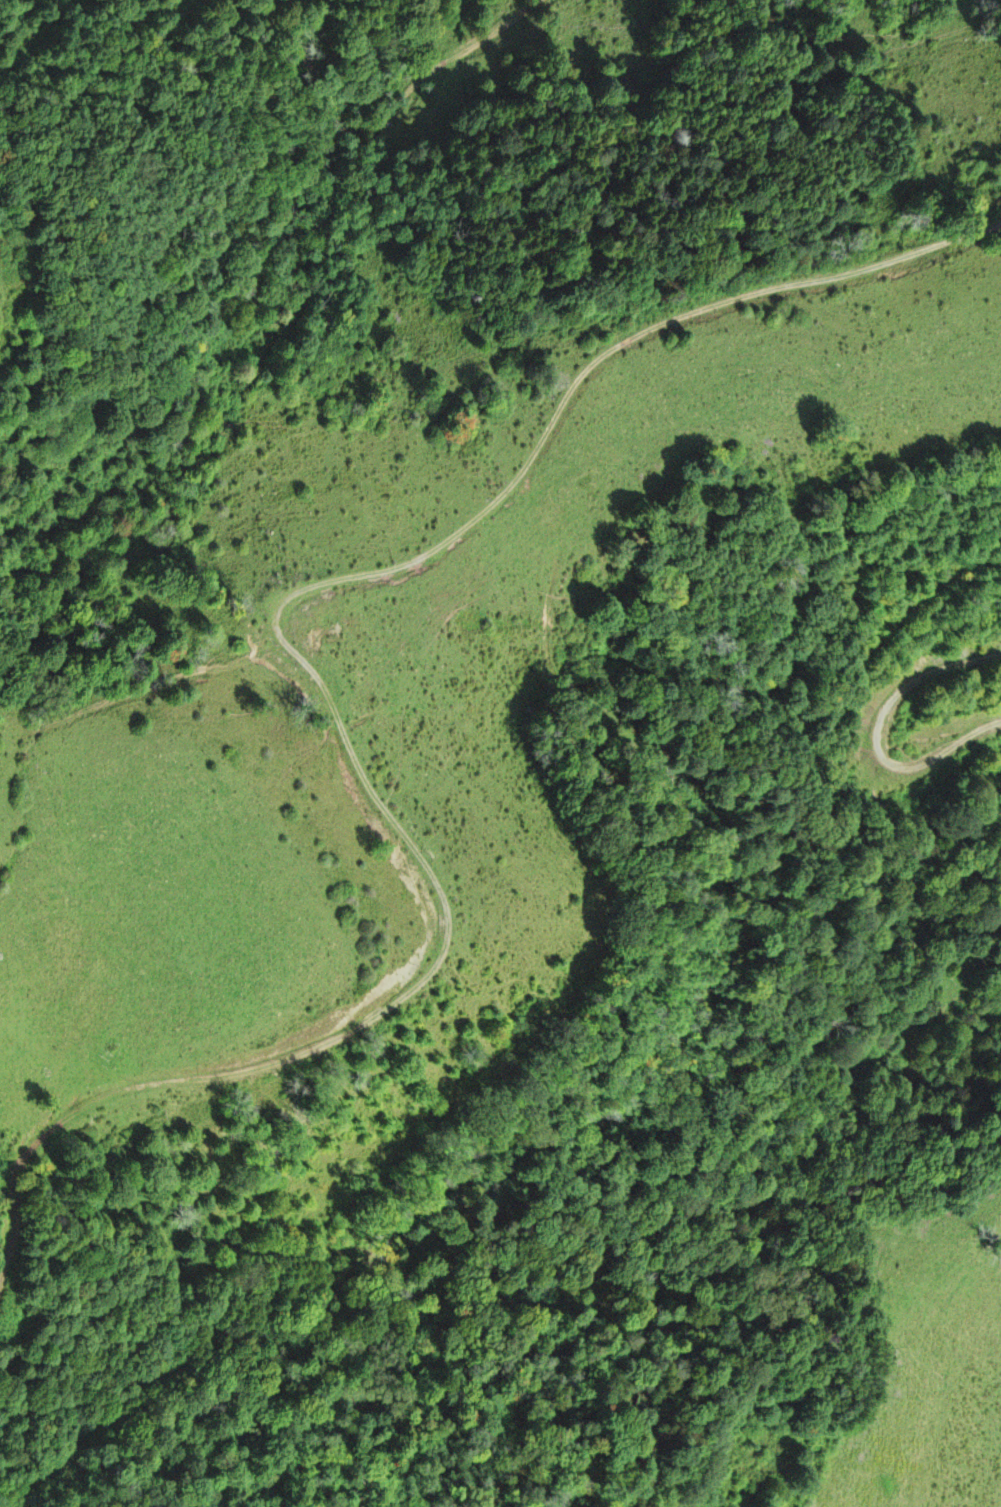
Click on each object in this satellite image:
road: (323, 682)
road: (873, 736)

